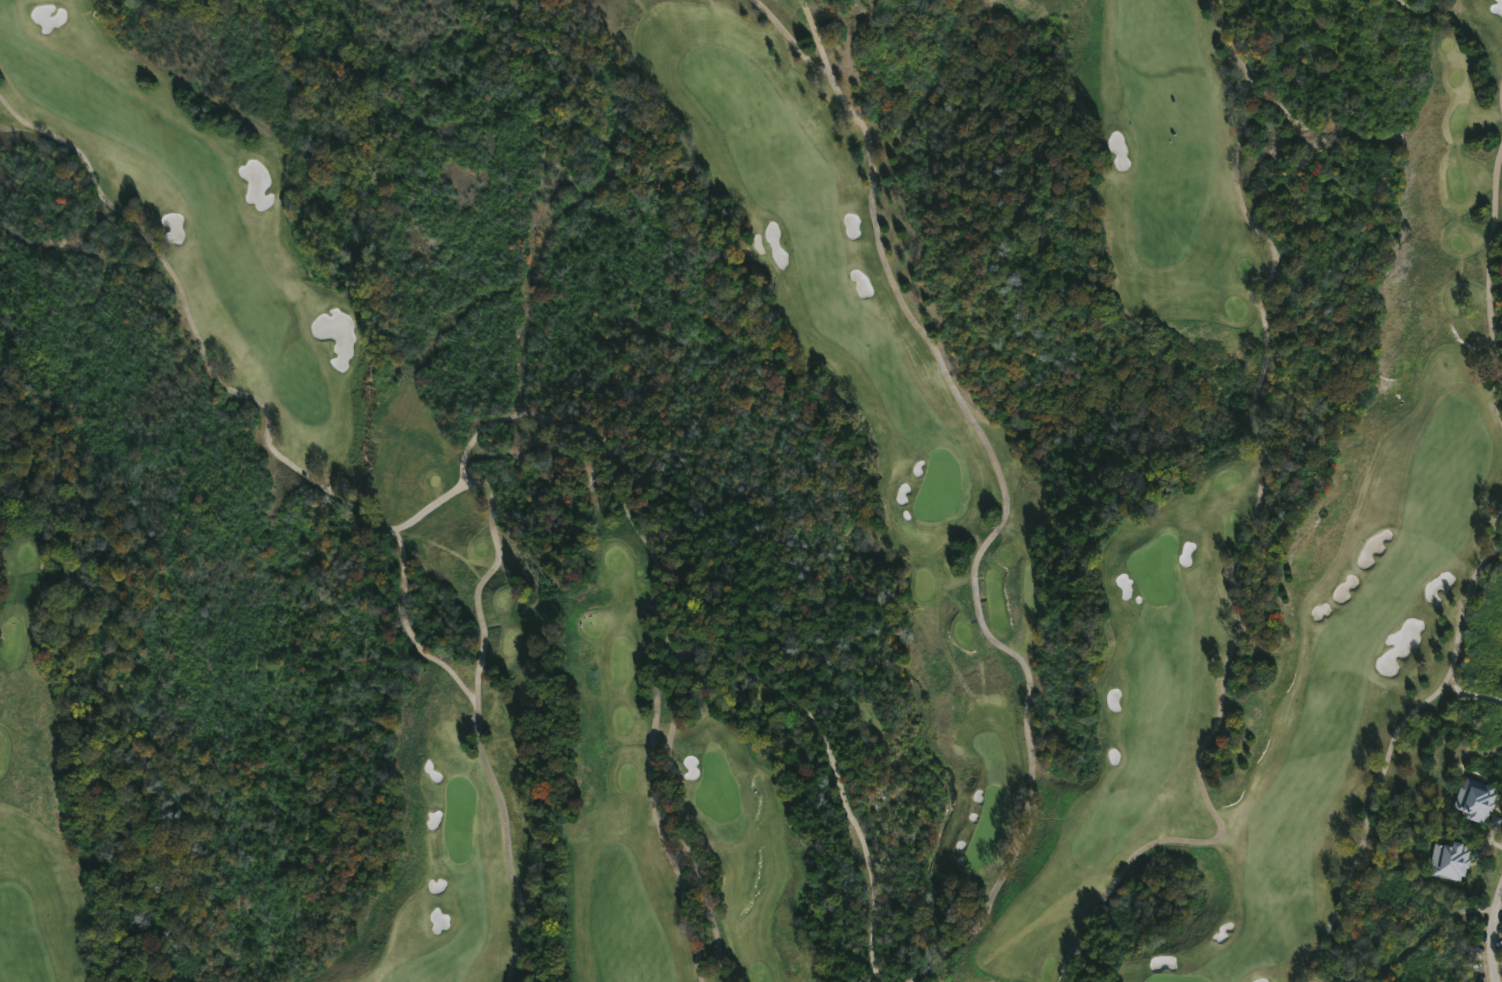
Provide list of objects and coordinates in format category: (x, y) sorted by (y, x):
road: (1501, 97)
road: (1489, 282)
road: (213, 365)
road: (536, 417)
park: (751, 491)
road: (1005, 499)
road: (1255, 536)
park: (1156, 569)
road: (655, 609)
road: (1395, 738)
road: (830, 763)
park: (717, 788)
building: (1478, 800)
road: (655, 814)
park: (459, 819)
park: (989, 825)
building: (1453, 860)
road: (1425, 938)
road: (1491, 939)
park: (1175, 979)

